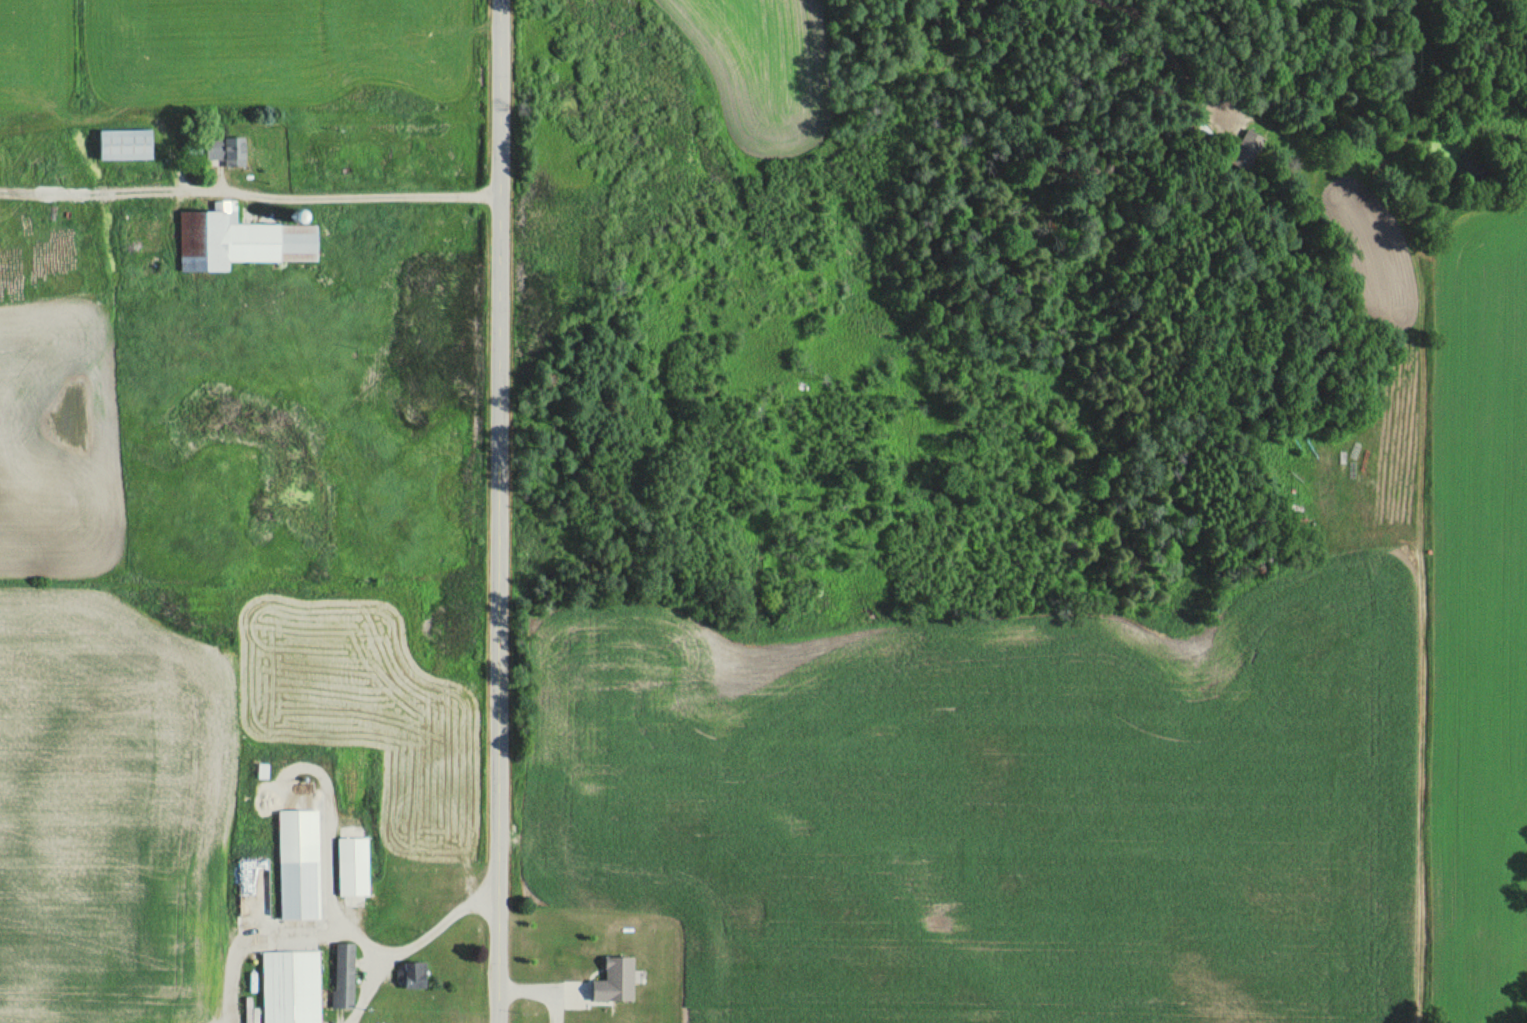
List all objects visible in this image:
building: (1199, 131)
building: (1250, 144)
building: (124, 145)
building: (225, 150)
building: (239, 240)
building: (1319, 455)
road: (500, 511)
building: (298, 864)
building: (352, 866)
building: (343, 975)
building: (414, 975)
building: (614, 980)
building: (290, 986)

